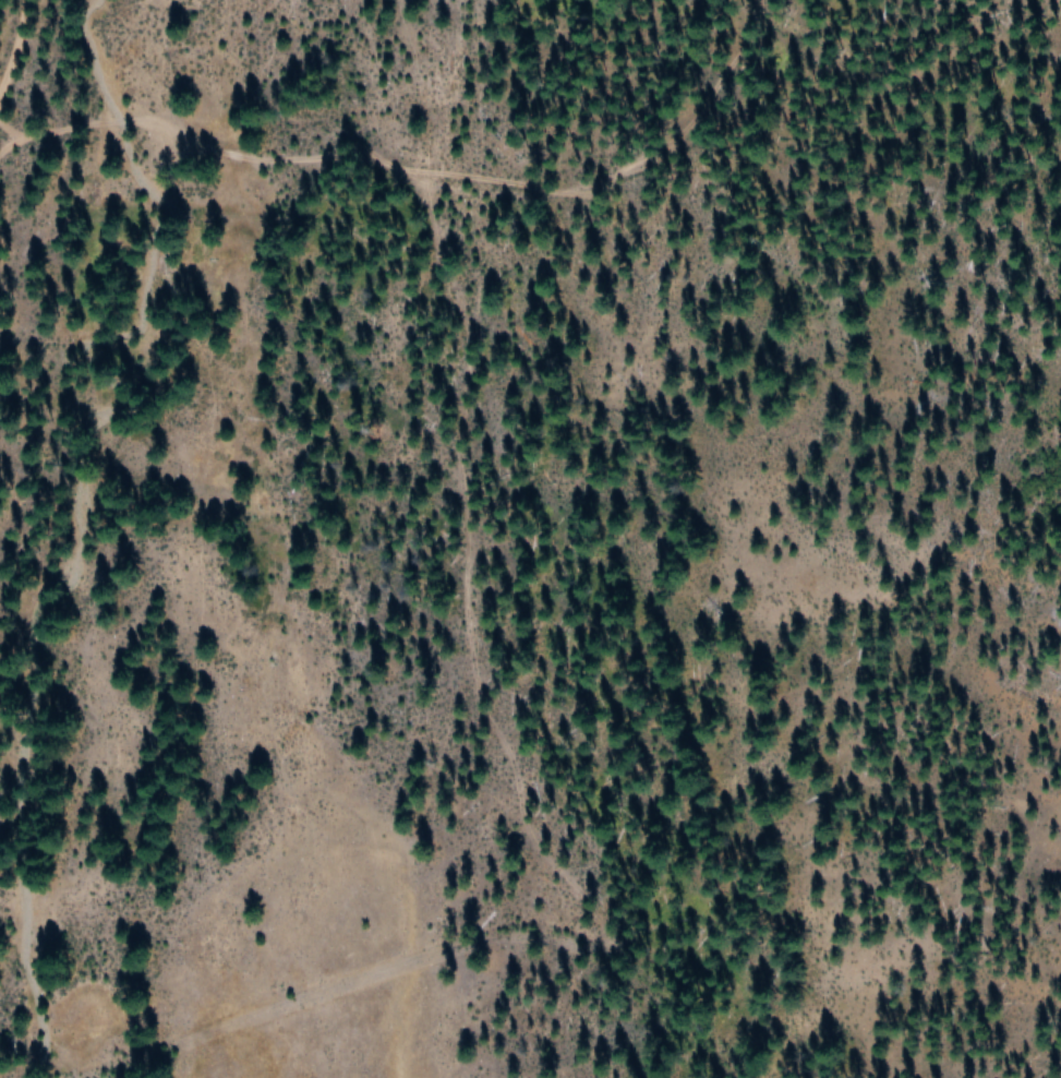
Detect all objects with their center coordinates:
road: (13, 47)
road: (417, 155)

